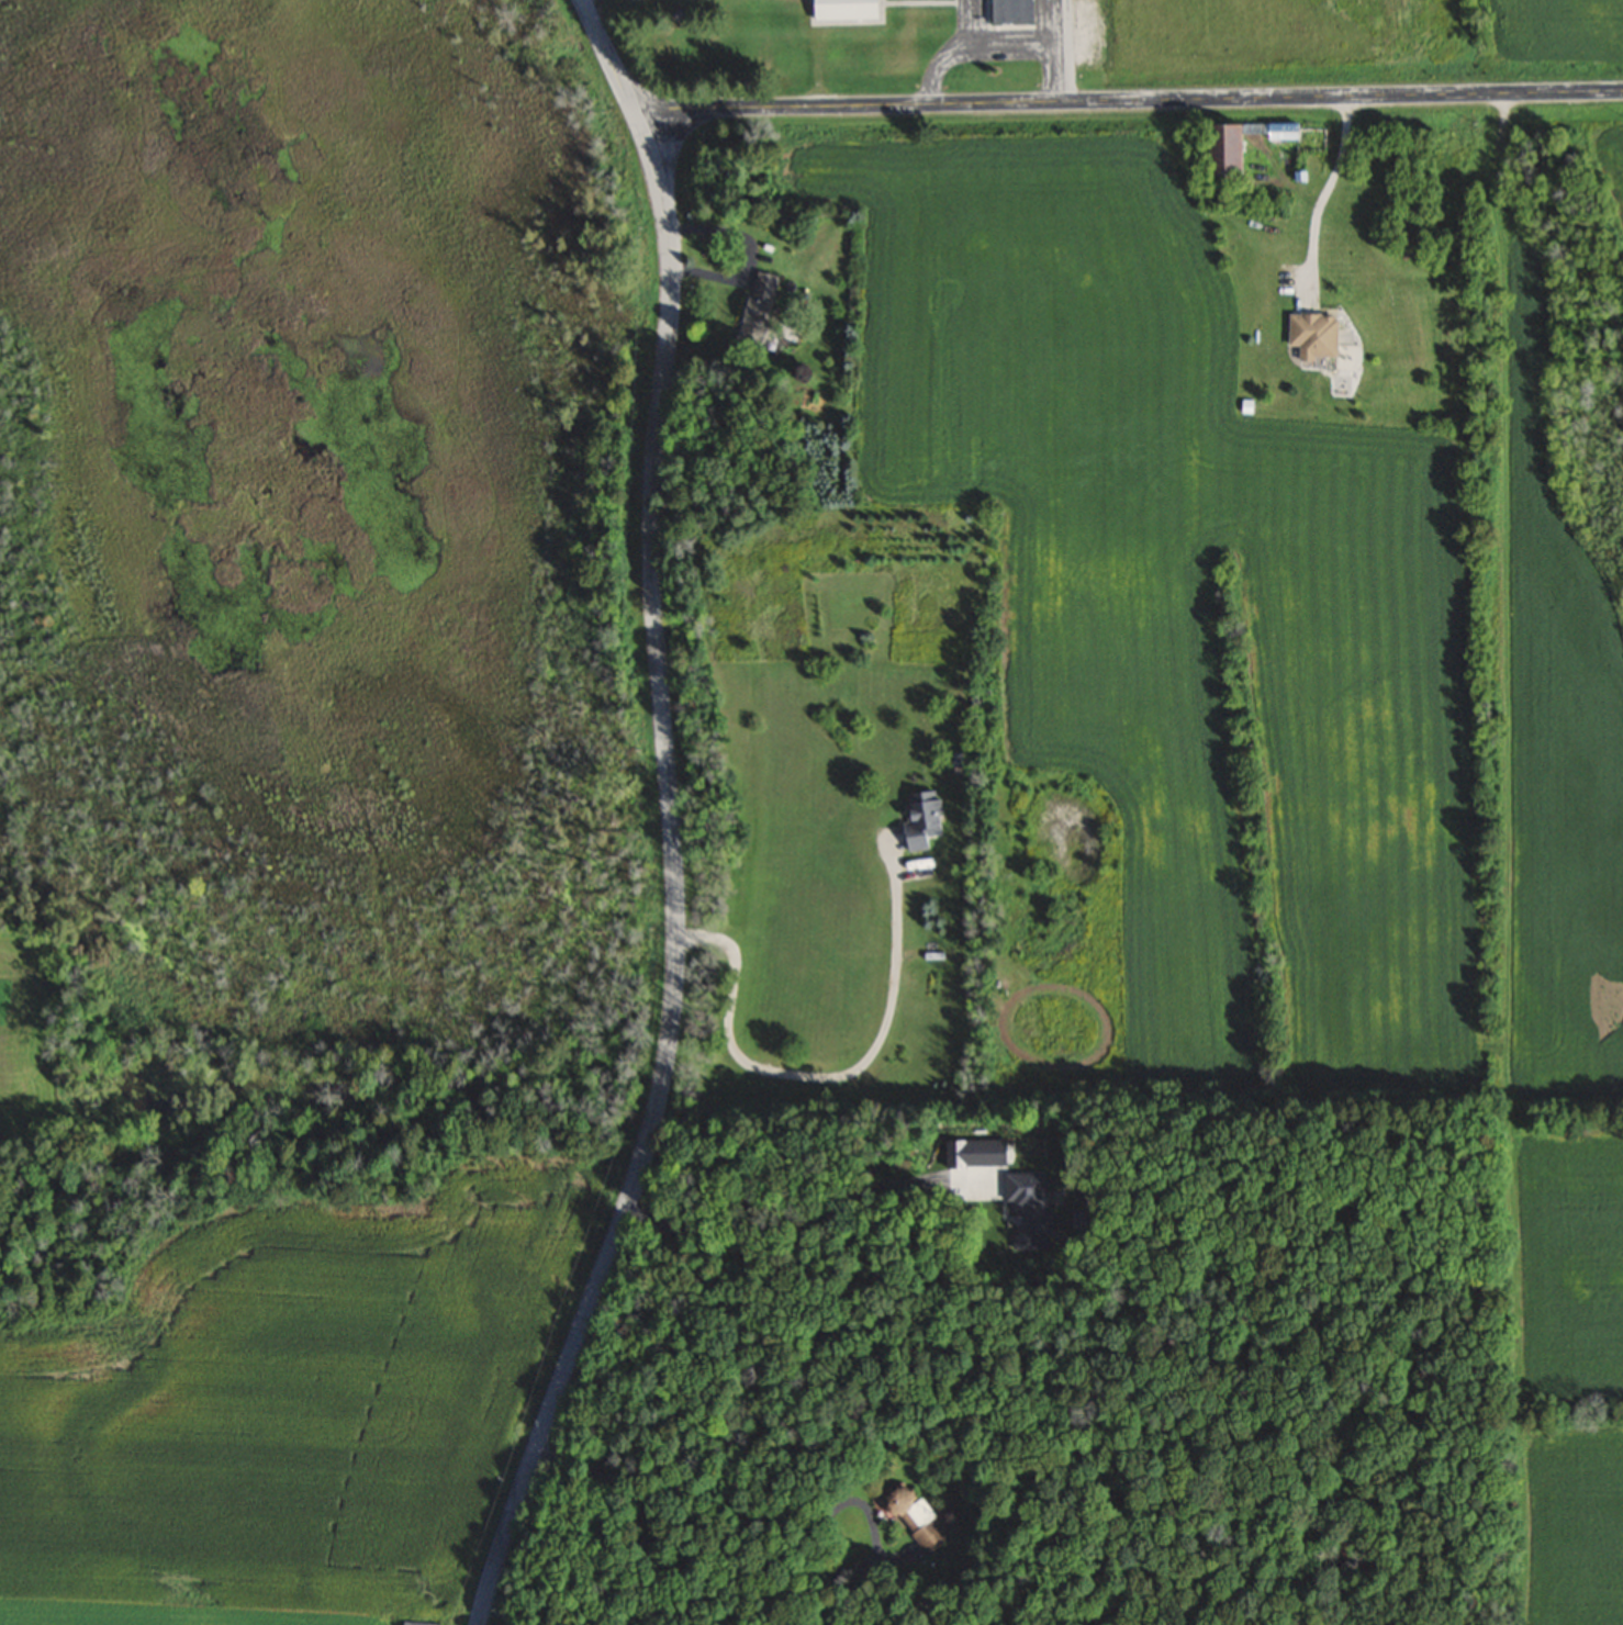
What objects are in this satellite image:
building: (842, 11)
building: (1009, 11)
road: (606, 55)
road: (1127, 100)
building: (1219, 150)
road: (1334, 188)
building: (757, 307)
building: (1310, 336)
building: (918, 816)
road: (675, 879)
building: (918, 1521)
building: (416, 1623)

